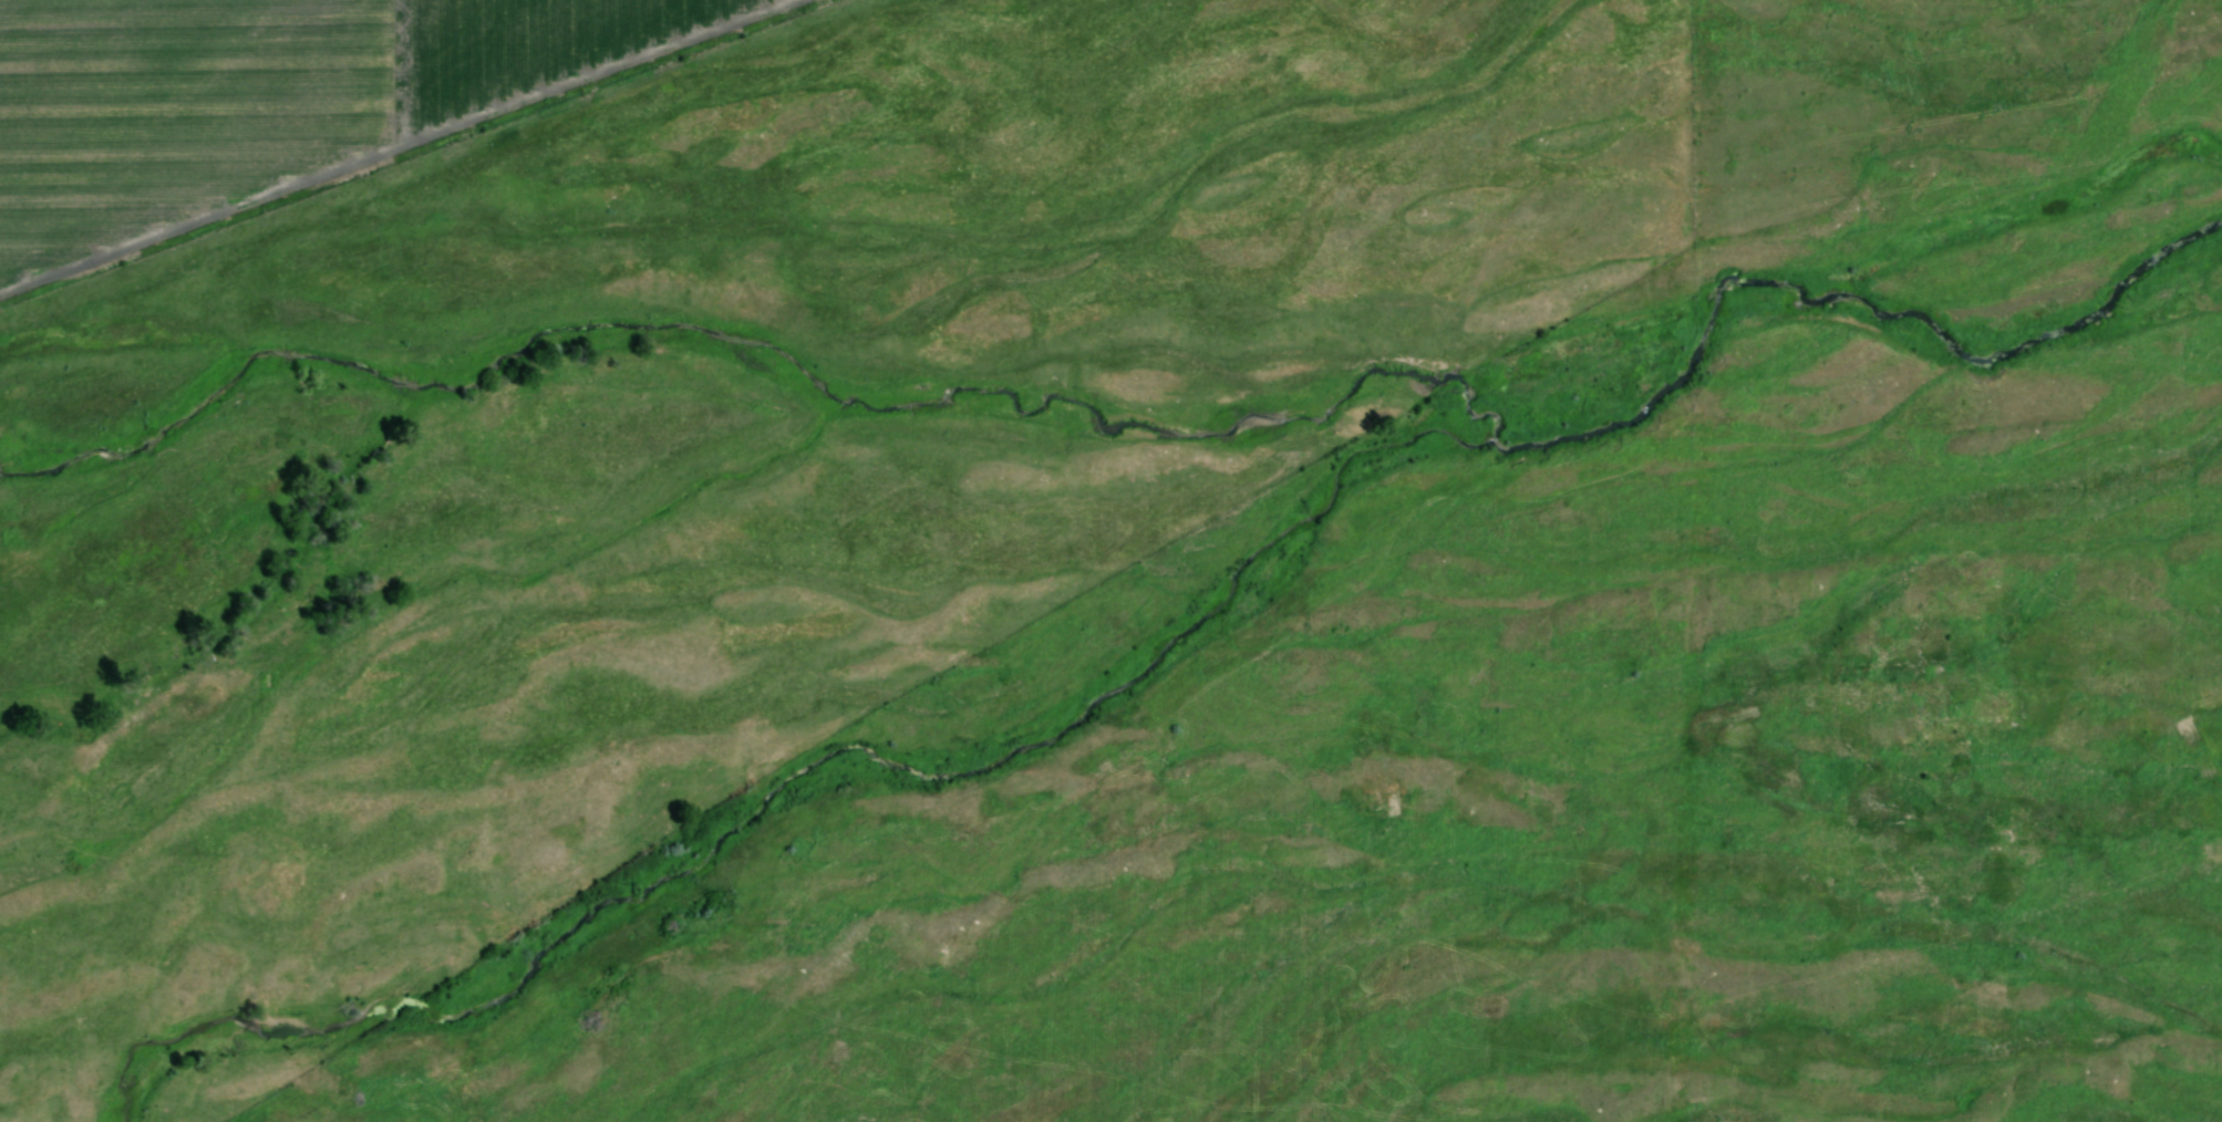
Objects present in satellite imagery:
building: (301, 657)

